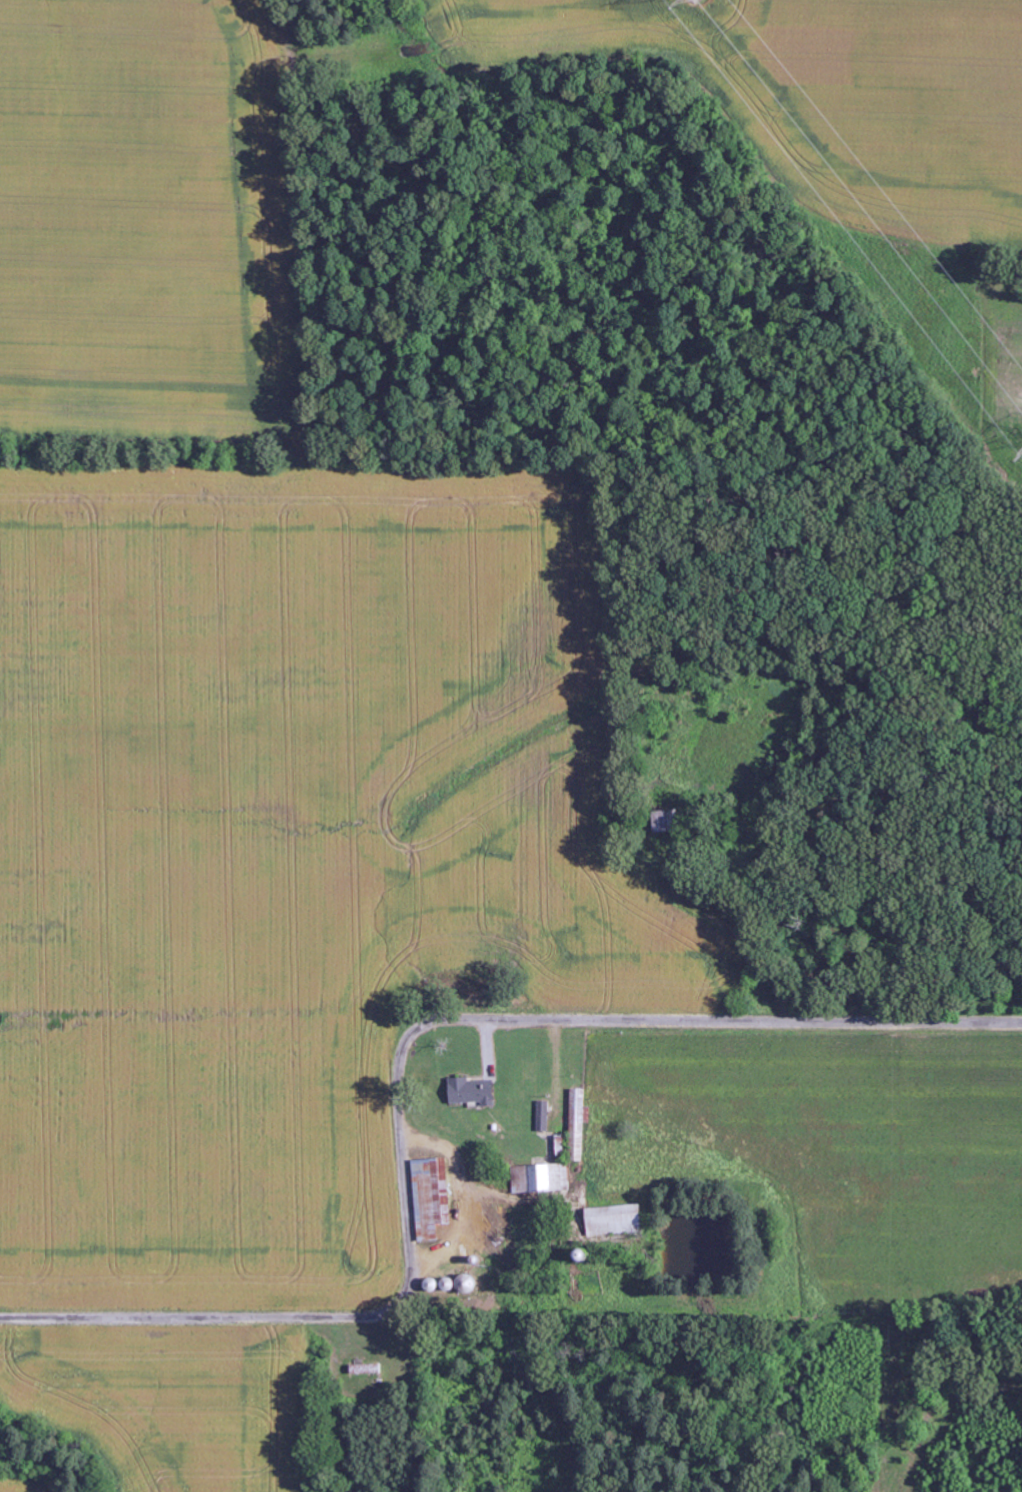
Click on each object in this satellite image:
building: (667, 820)
road: (398, 1062)
building: (472, 1092)
building: (579, 1110)
building: (543, 1116)
building: (540, 1178)
building: (432, 1197)
building: (615, 1220)

